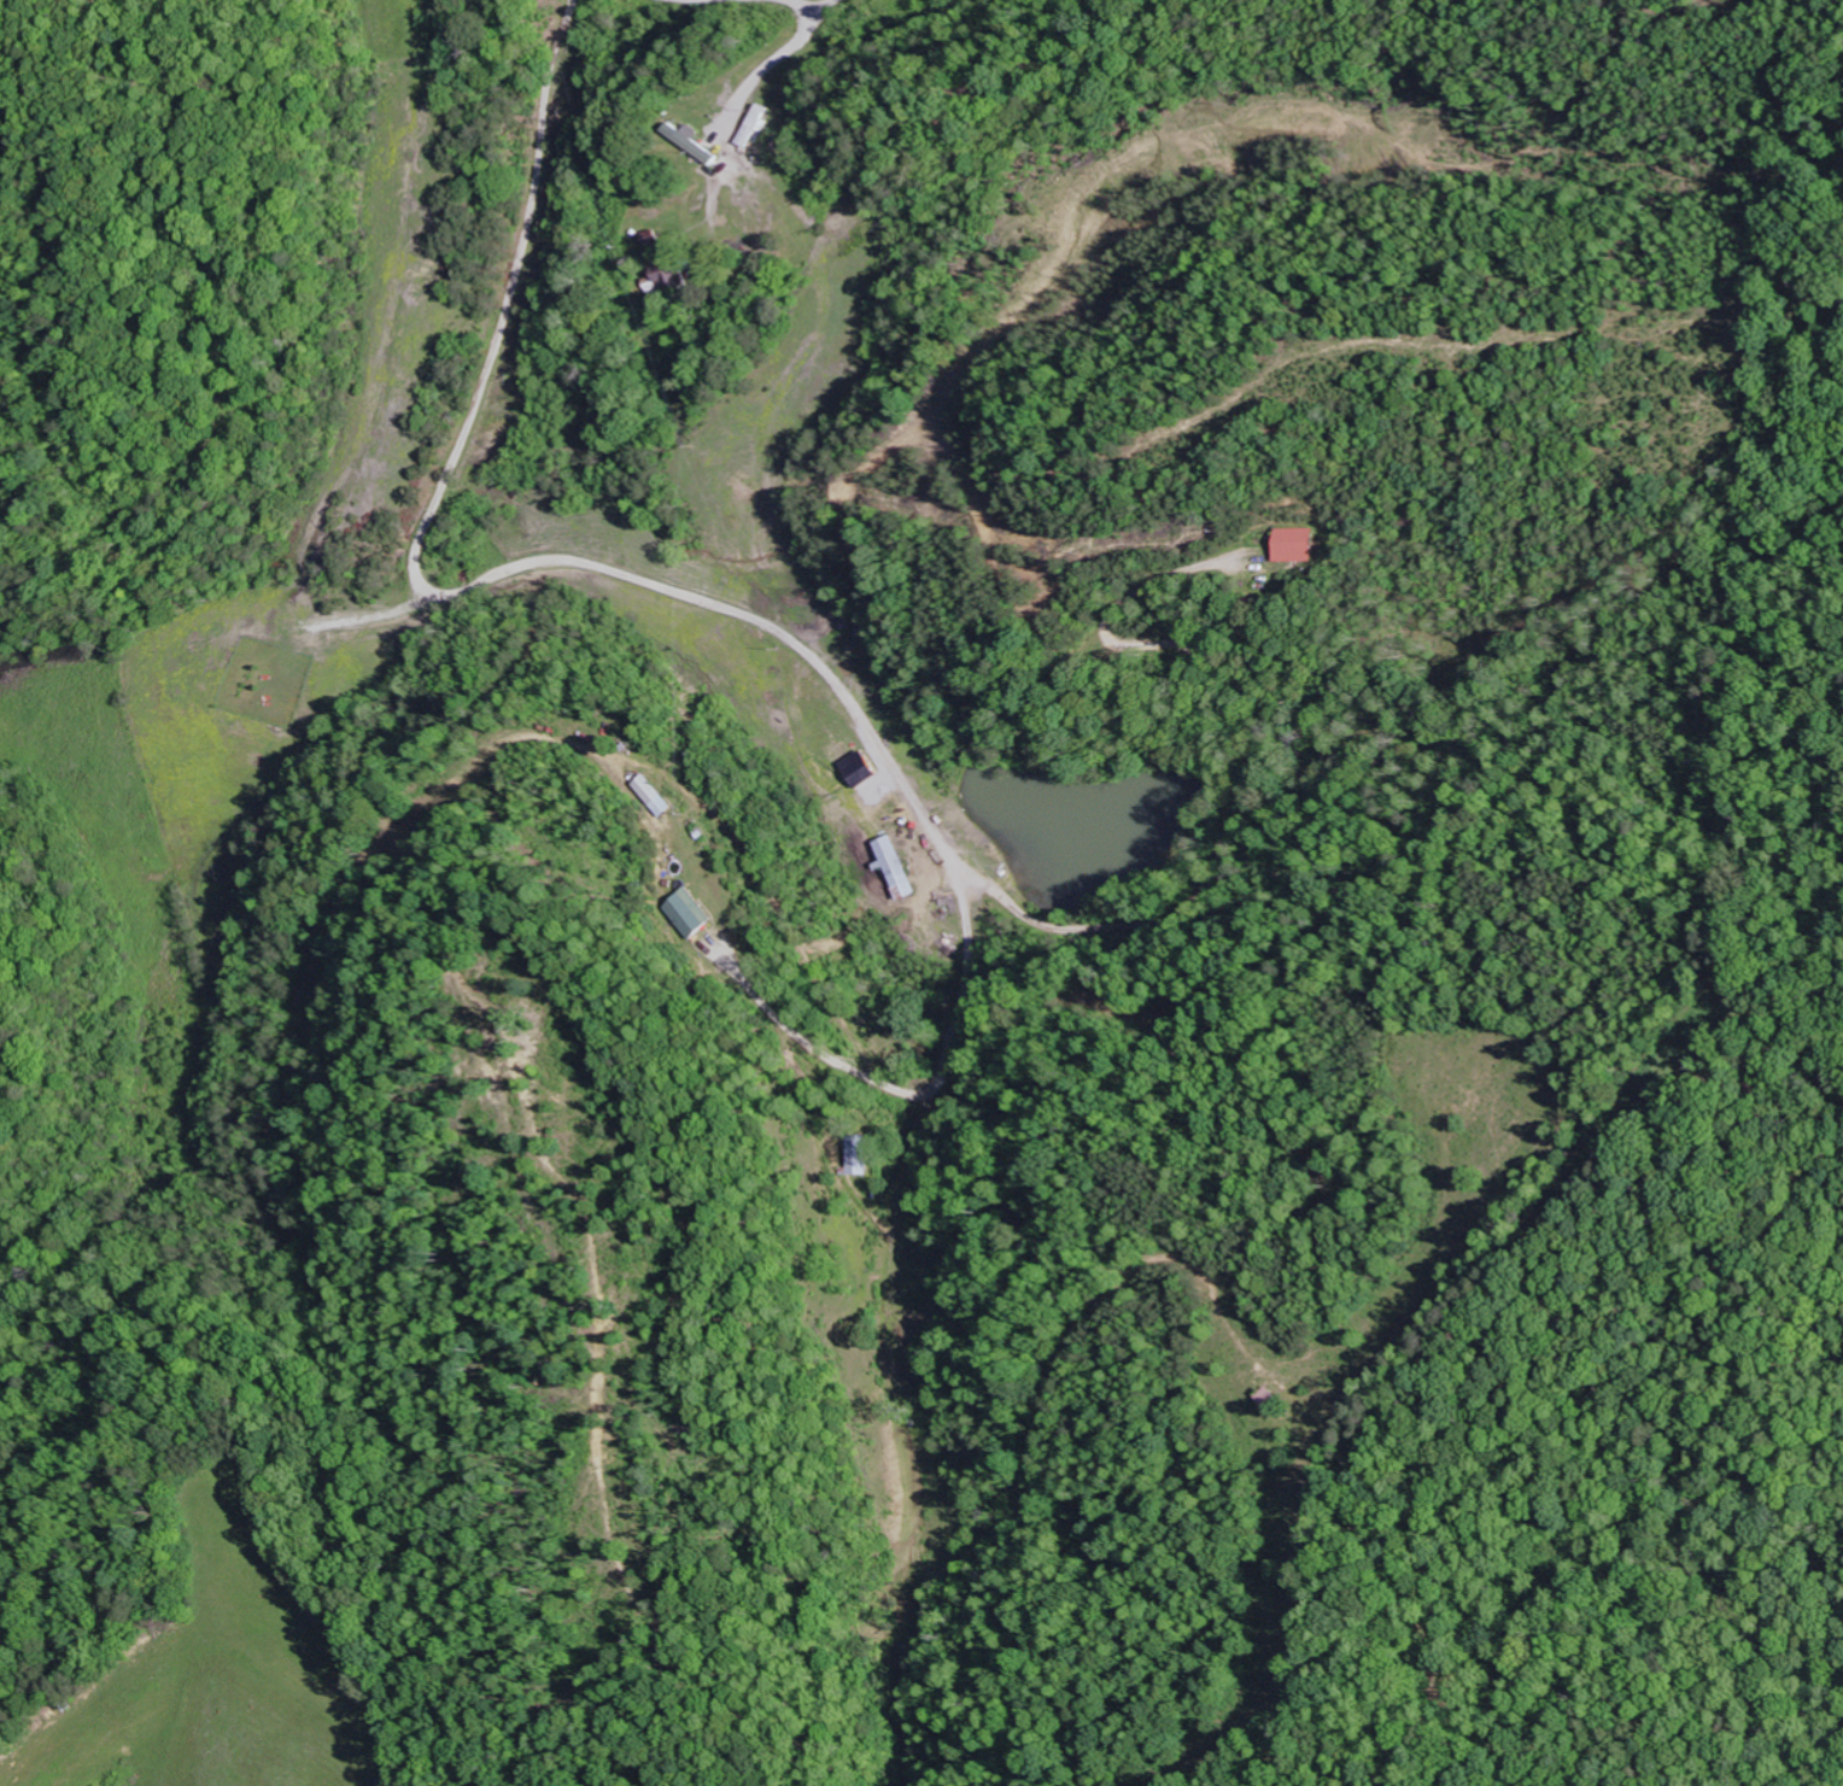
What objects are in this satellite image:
road: (784, 54)
building: (700, 142)
building: (673, 277)
building: (1294, 544)
building: (862, 768)
building: (651, 795)
building: (896, 866)
building: (684, 913)
building: (856, 1154)

